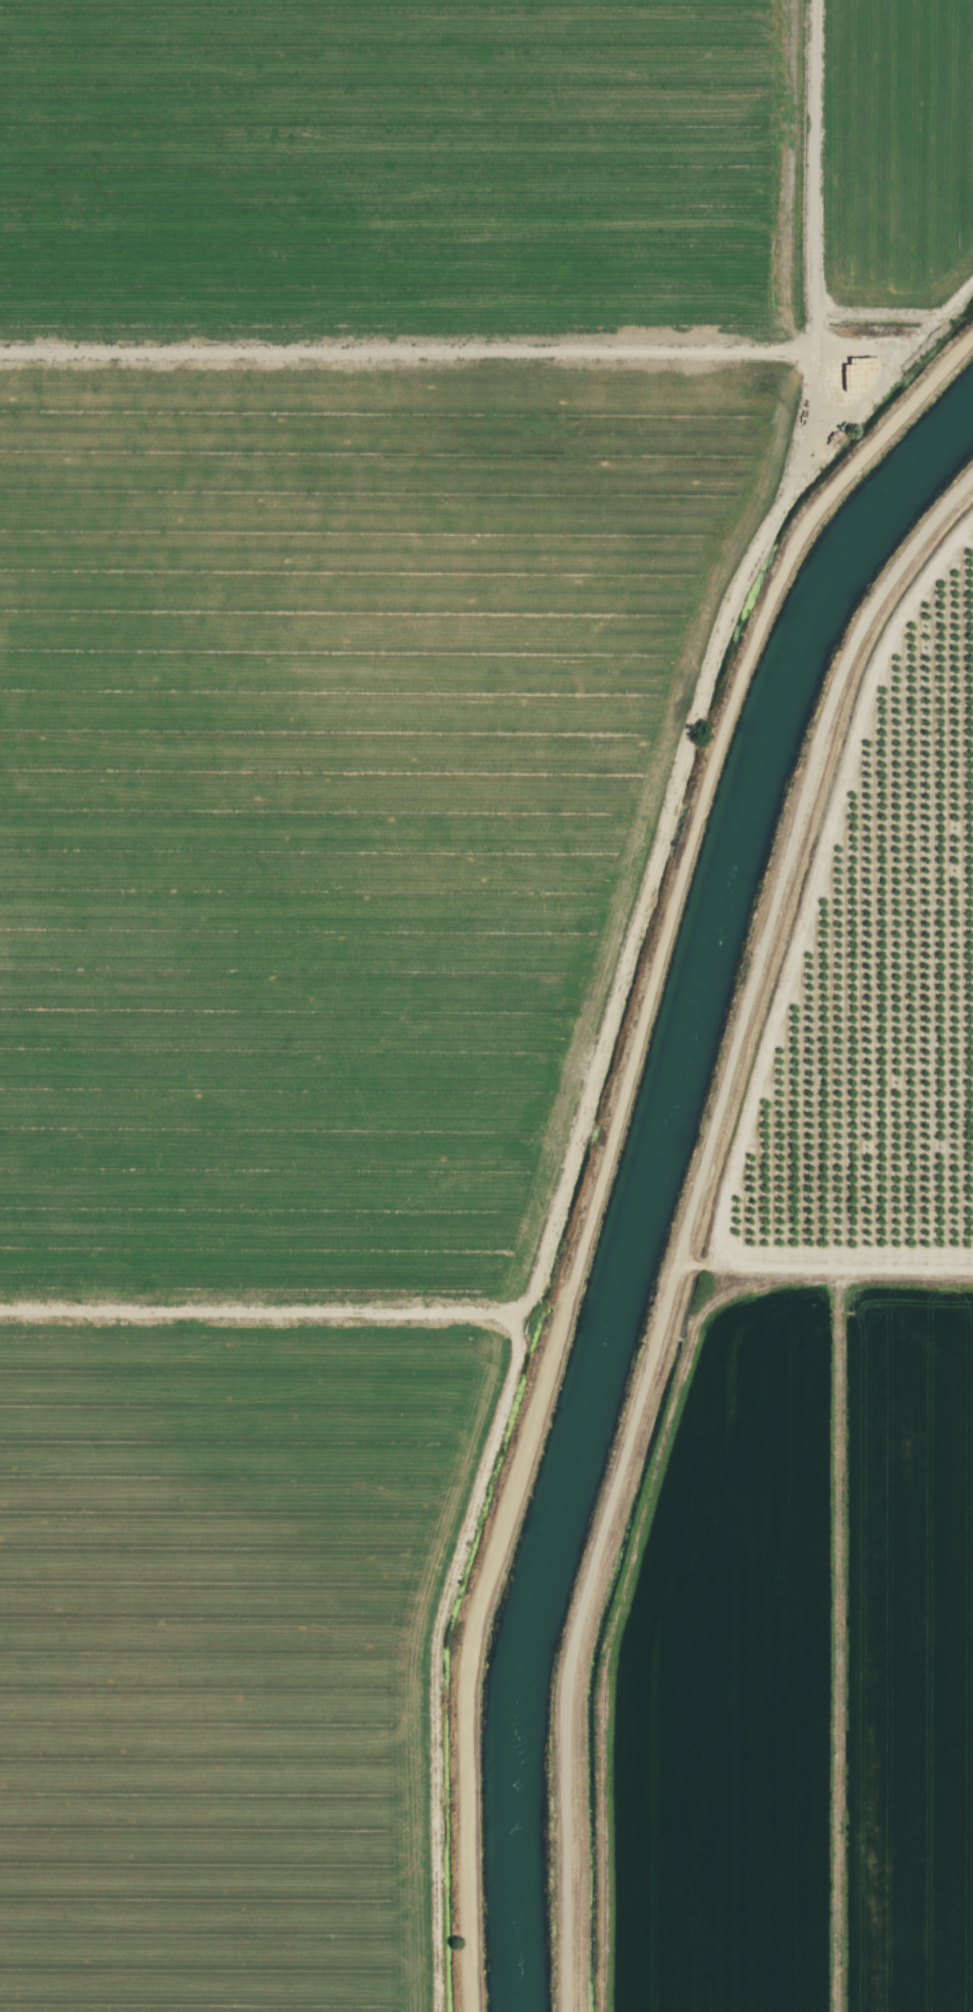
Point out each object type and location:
road: (688, 1222)

